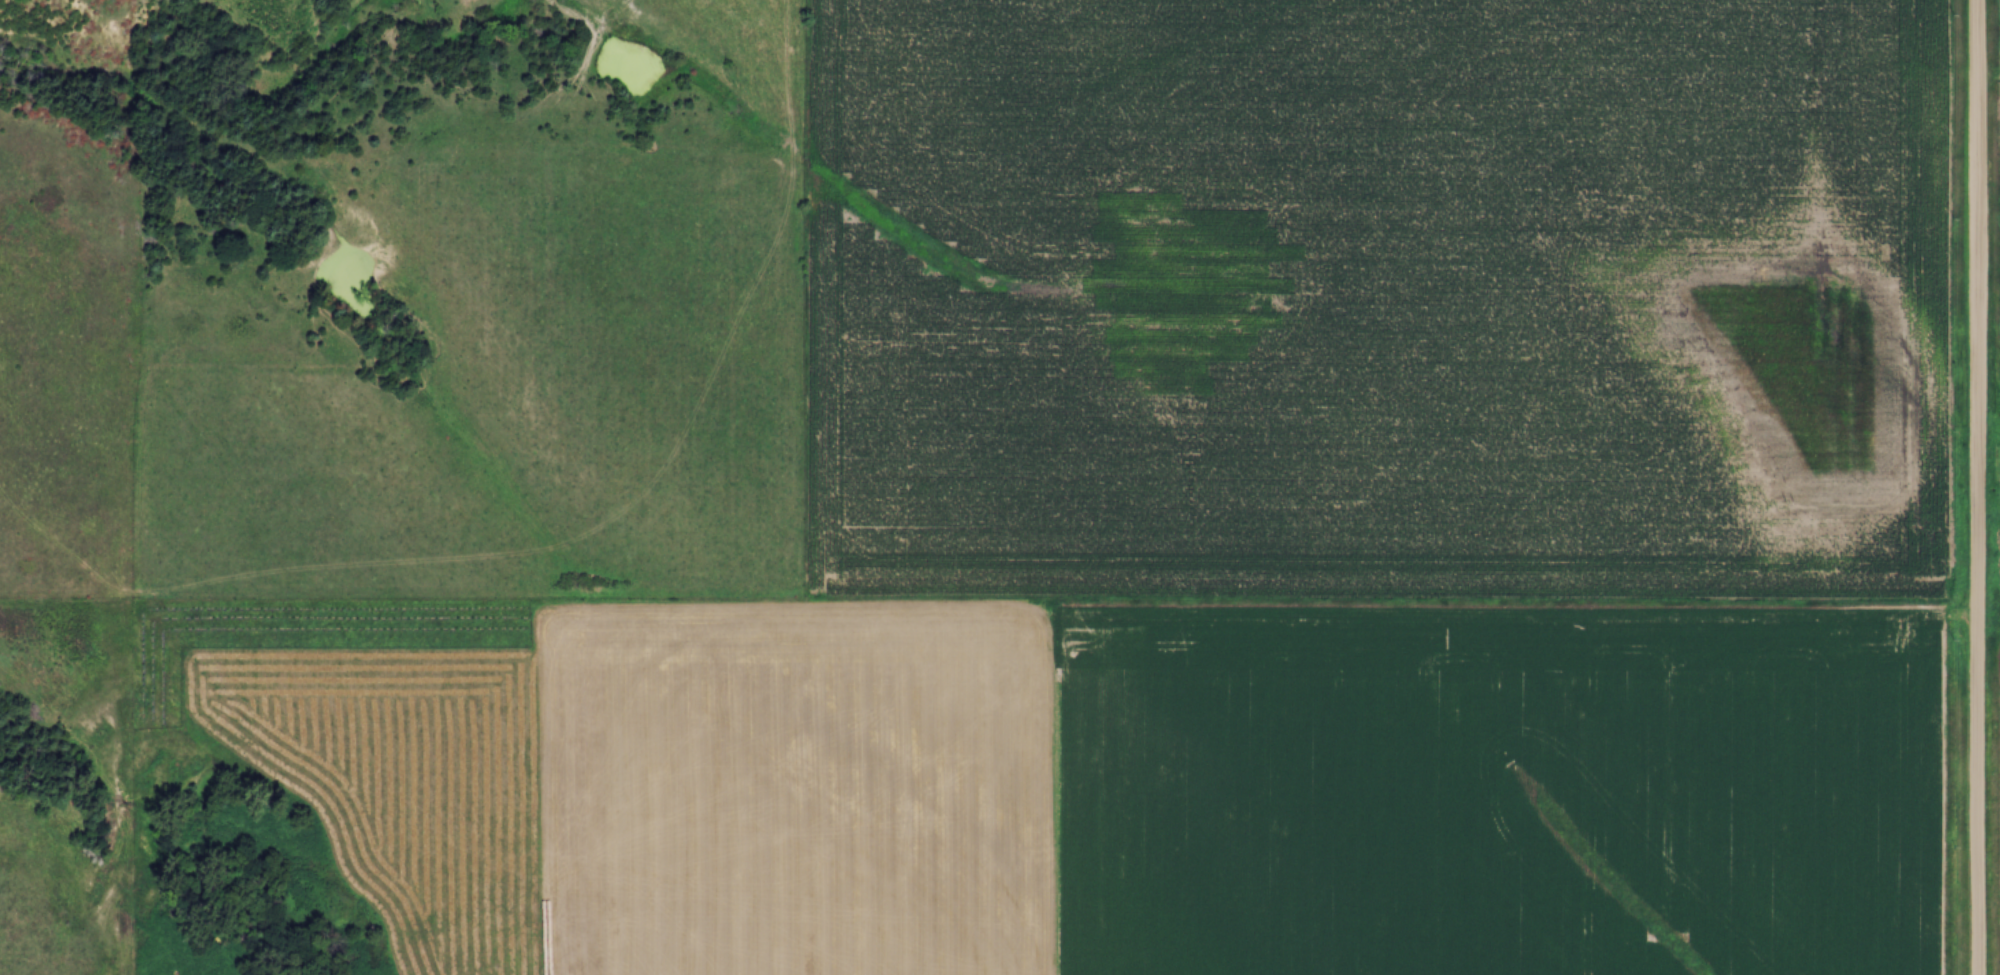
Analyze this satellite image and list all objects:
road: (1978, 487)

